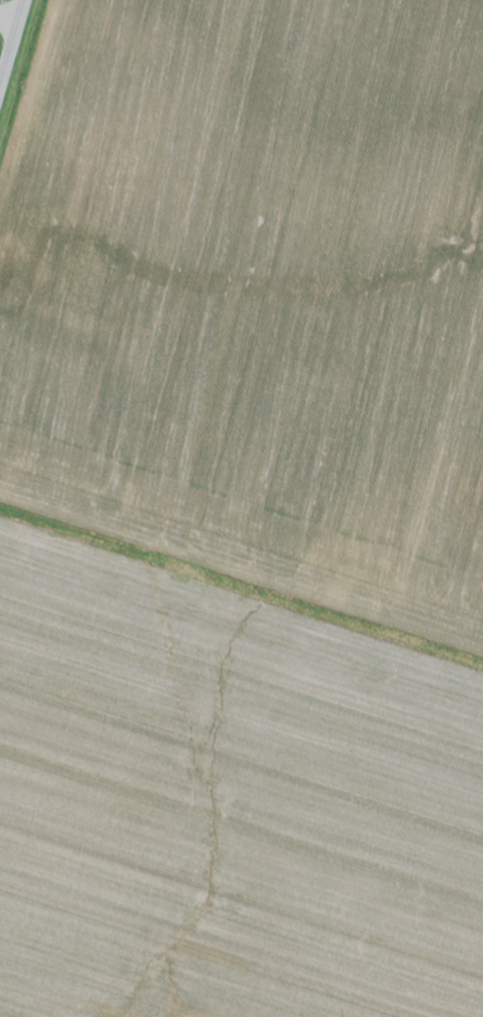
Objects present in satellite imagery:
road: (12, 44)
road: (248, 511)

